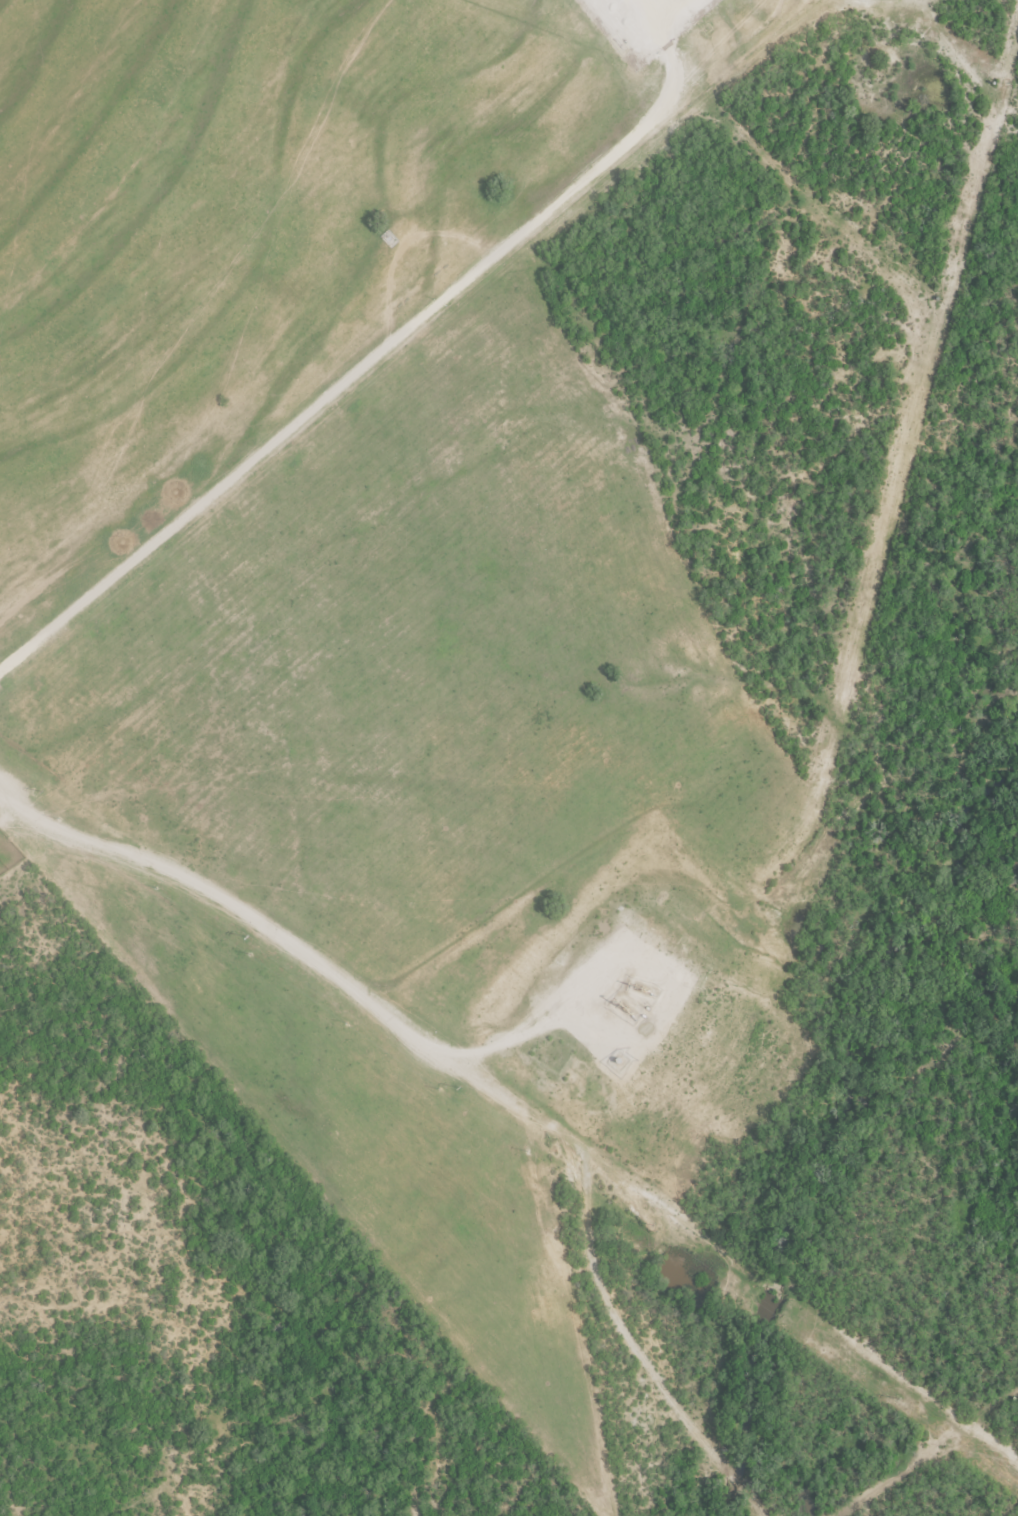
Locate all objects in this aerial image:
road: (387, 343)
power tower: (42, 792)
power tower: (247, 937)
road: (334, 963)
power tower: (458, 1087)
power tower: (652, 1225)
power tower: (897, 1399)

